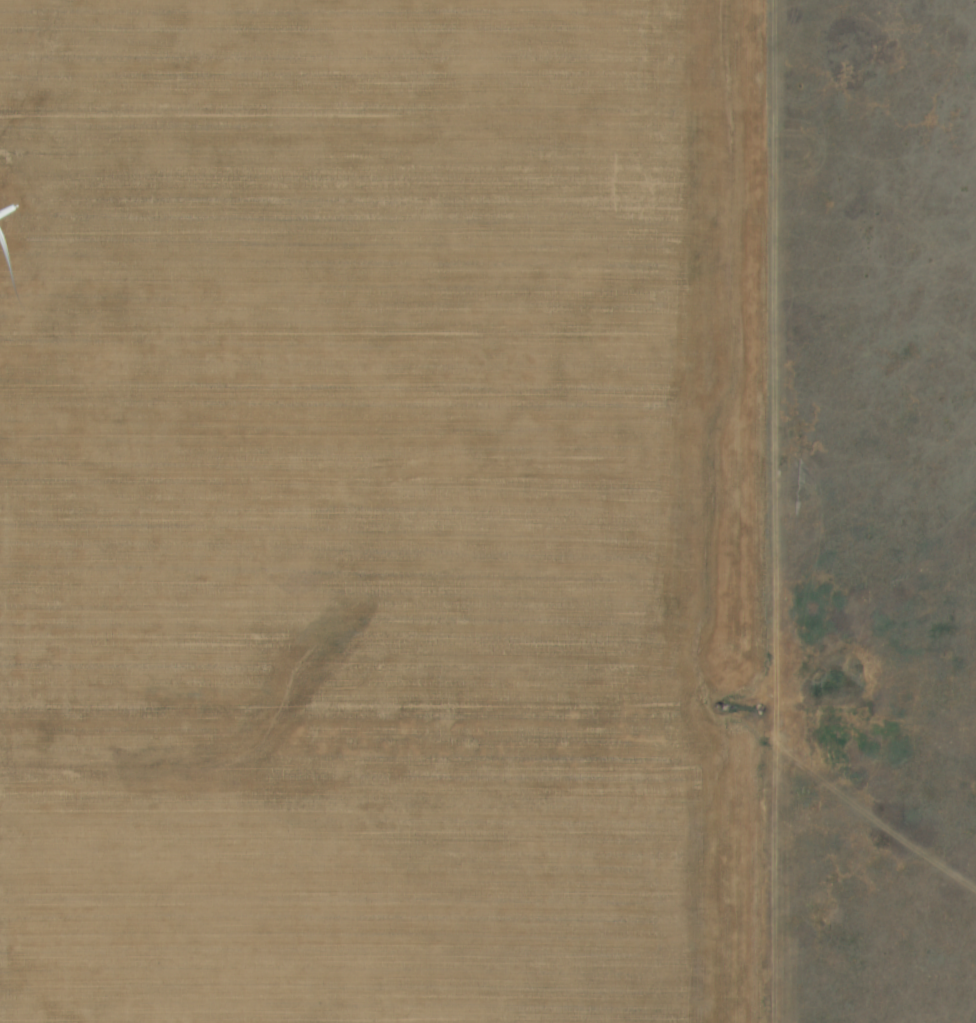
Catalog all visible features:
road: (815, 741)

